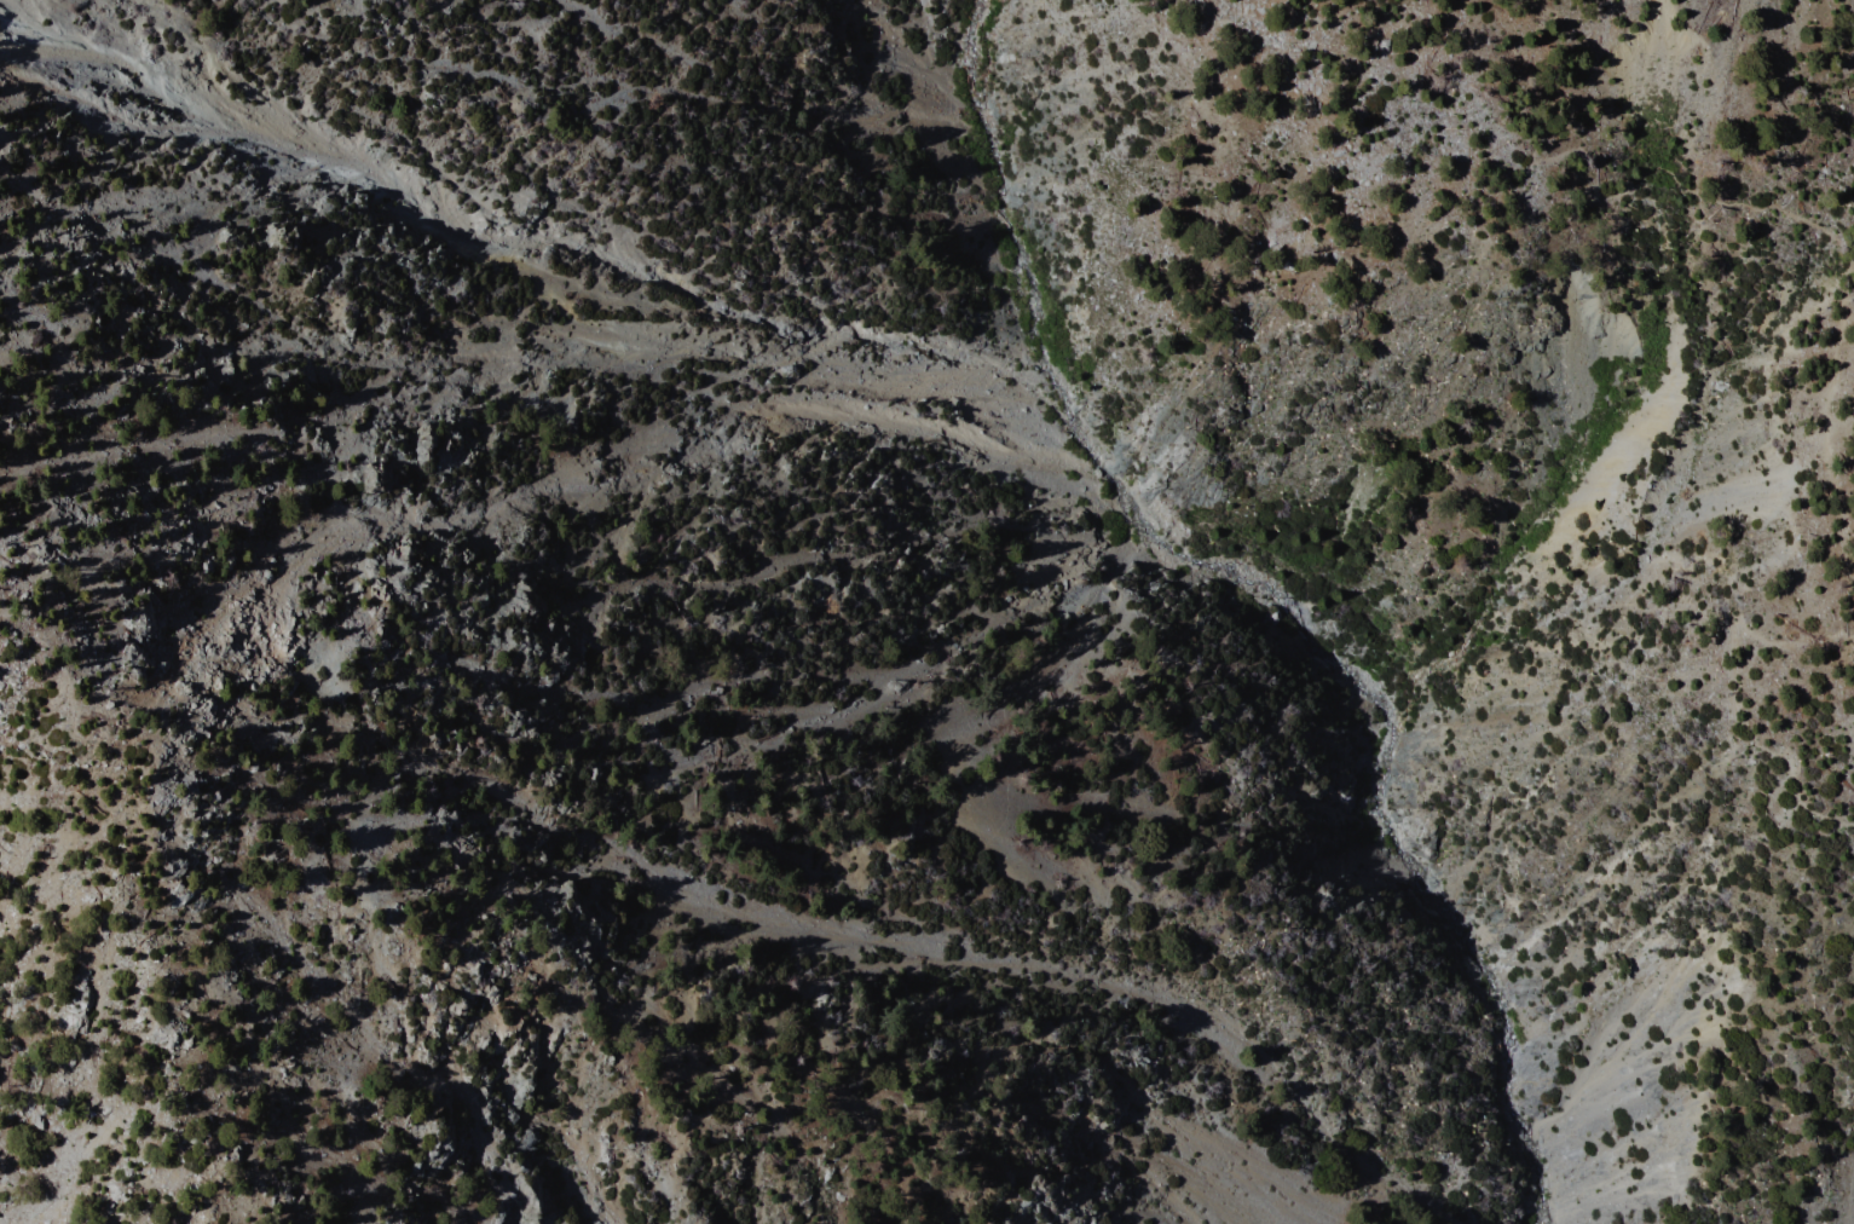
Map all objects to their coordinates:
road: (1690, 203)
road: (1728, 680)

